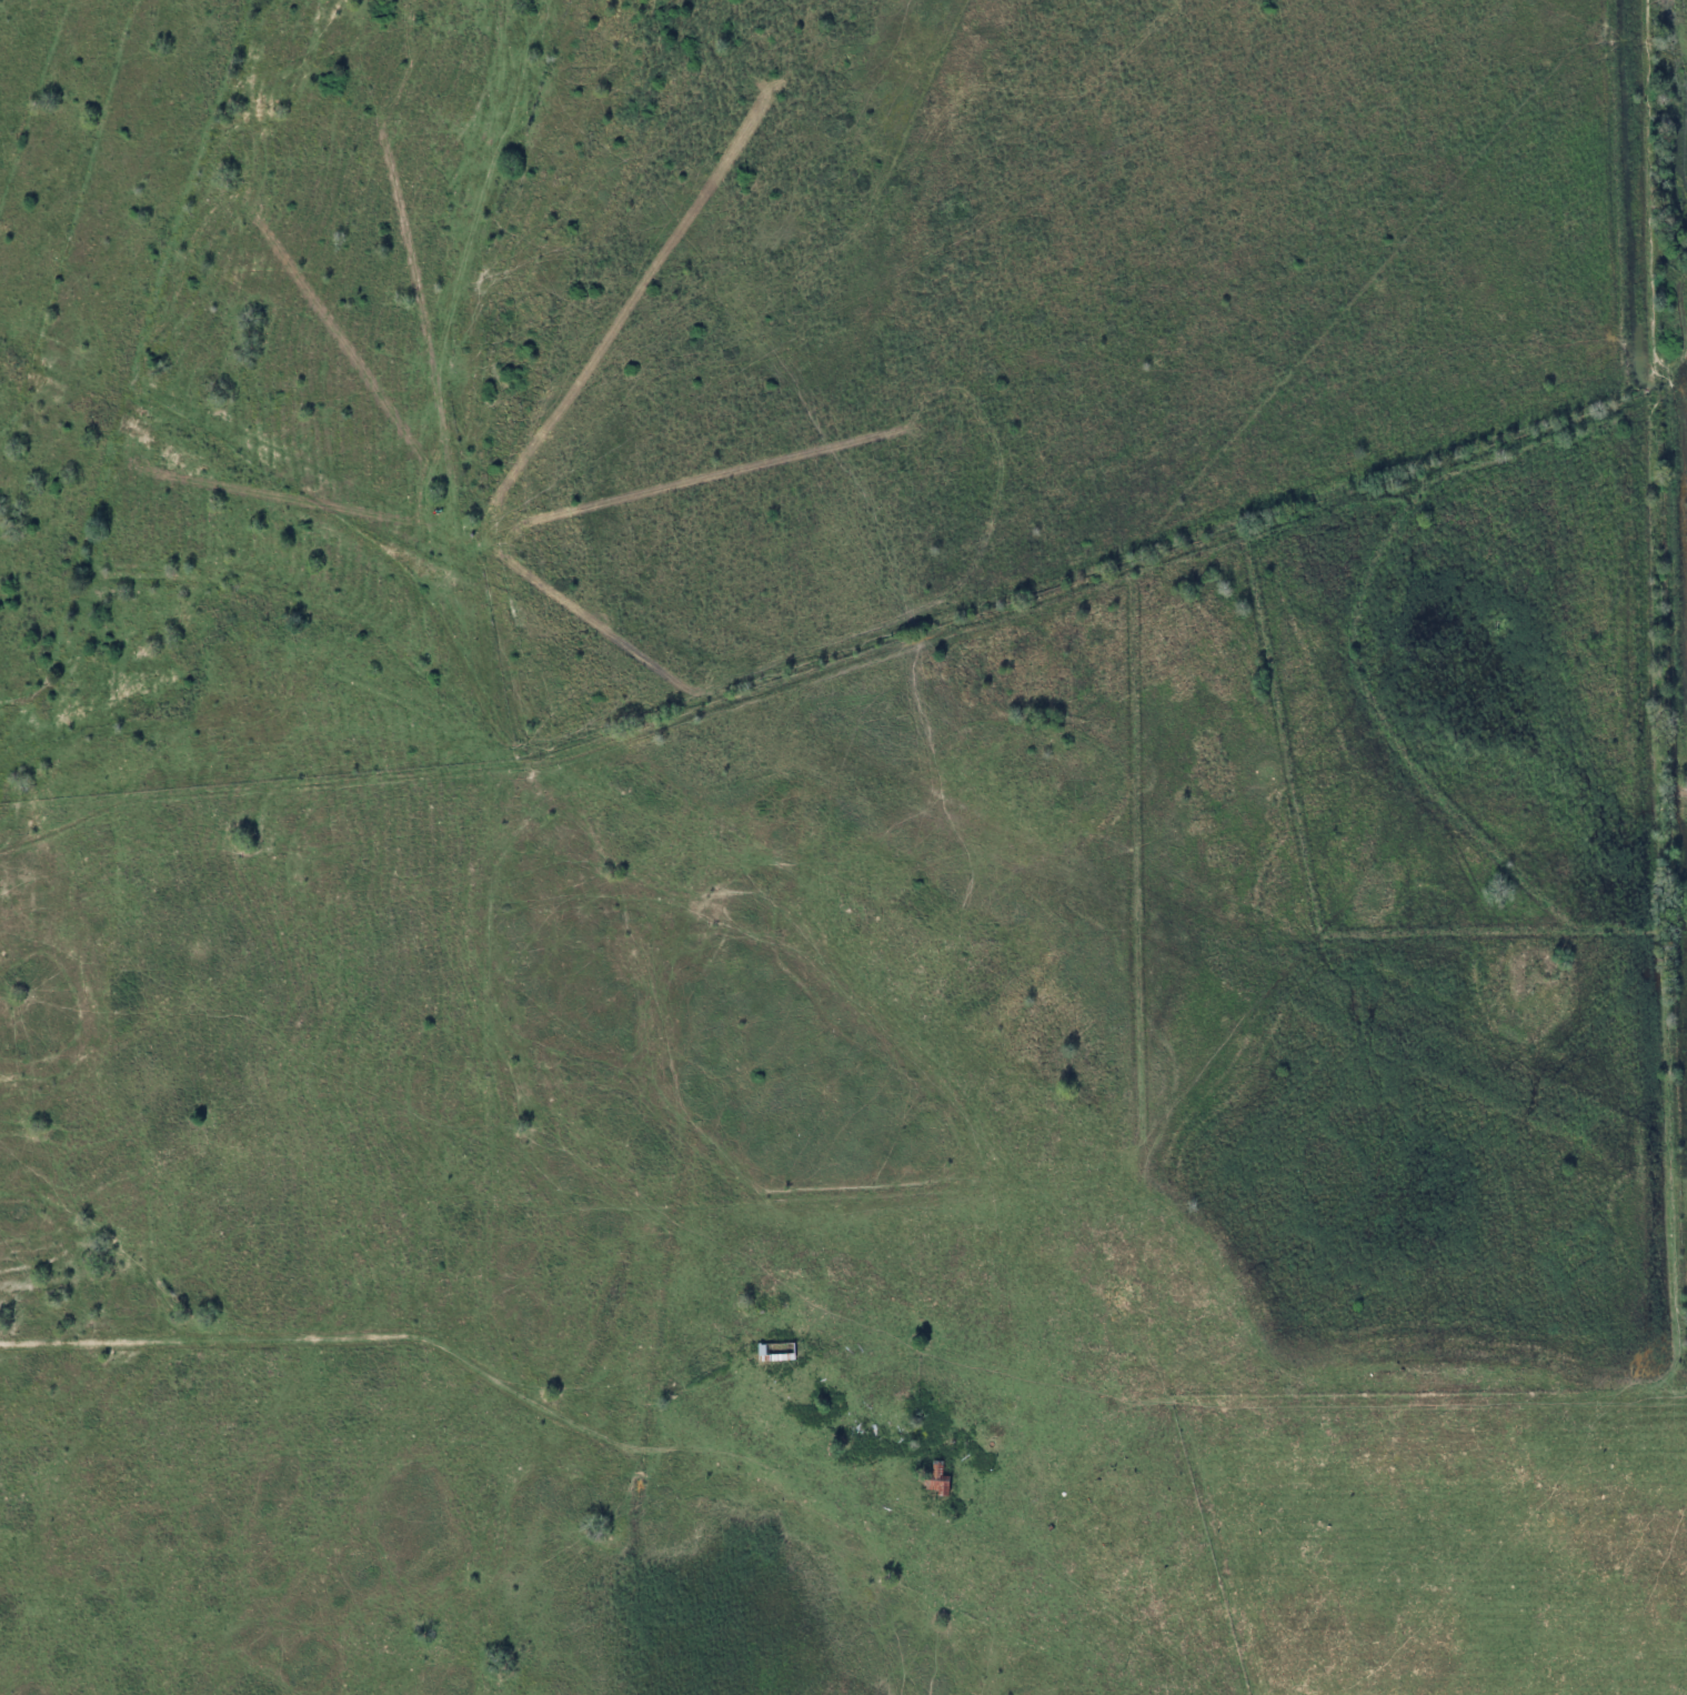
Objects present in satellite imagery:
building: (771, 1352)

